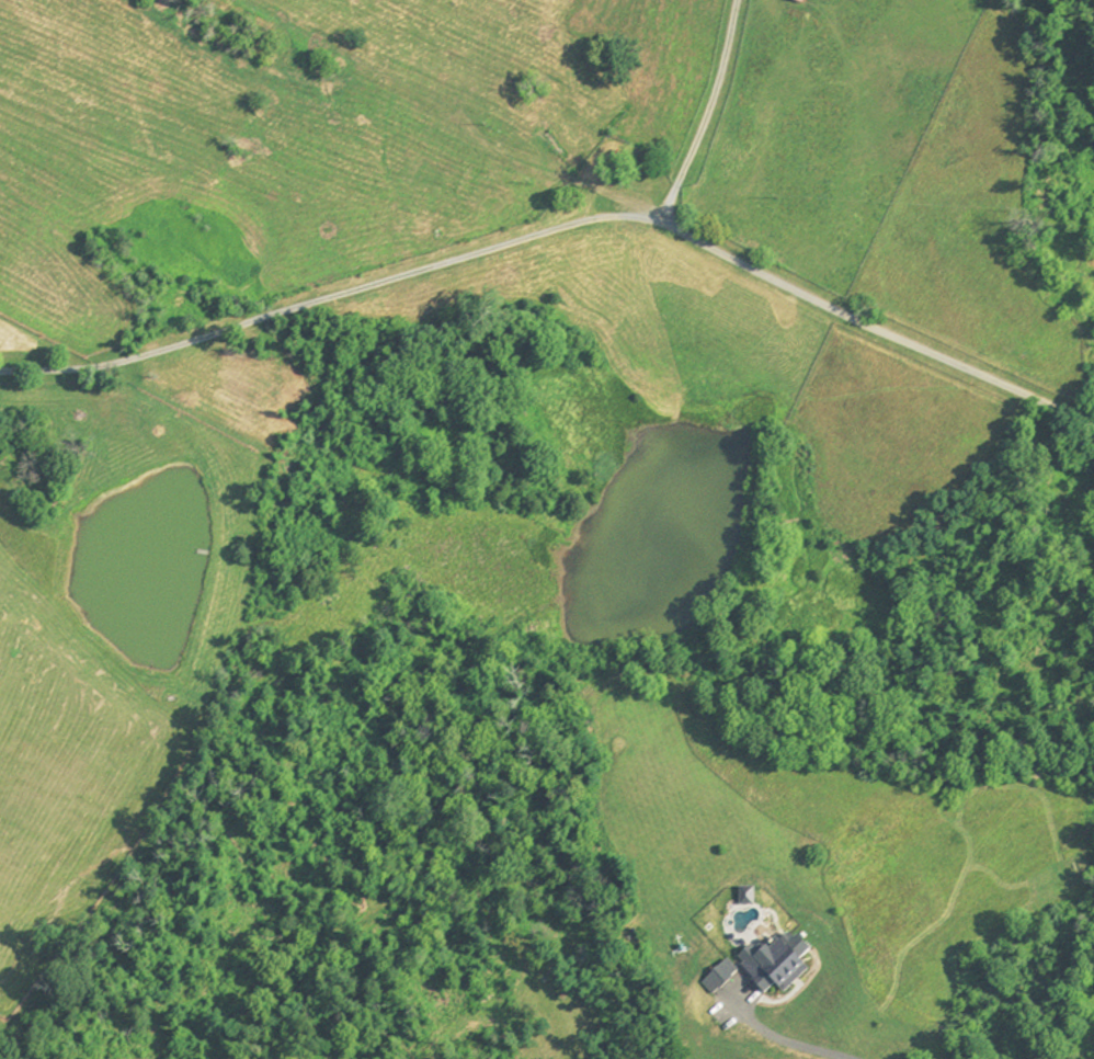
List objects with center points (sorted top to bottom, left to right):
building: (794, 2)
road: (708, 112)
road: (334, 297)
road: (881, 319)
road: (780, 1038)

